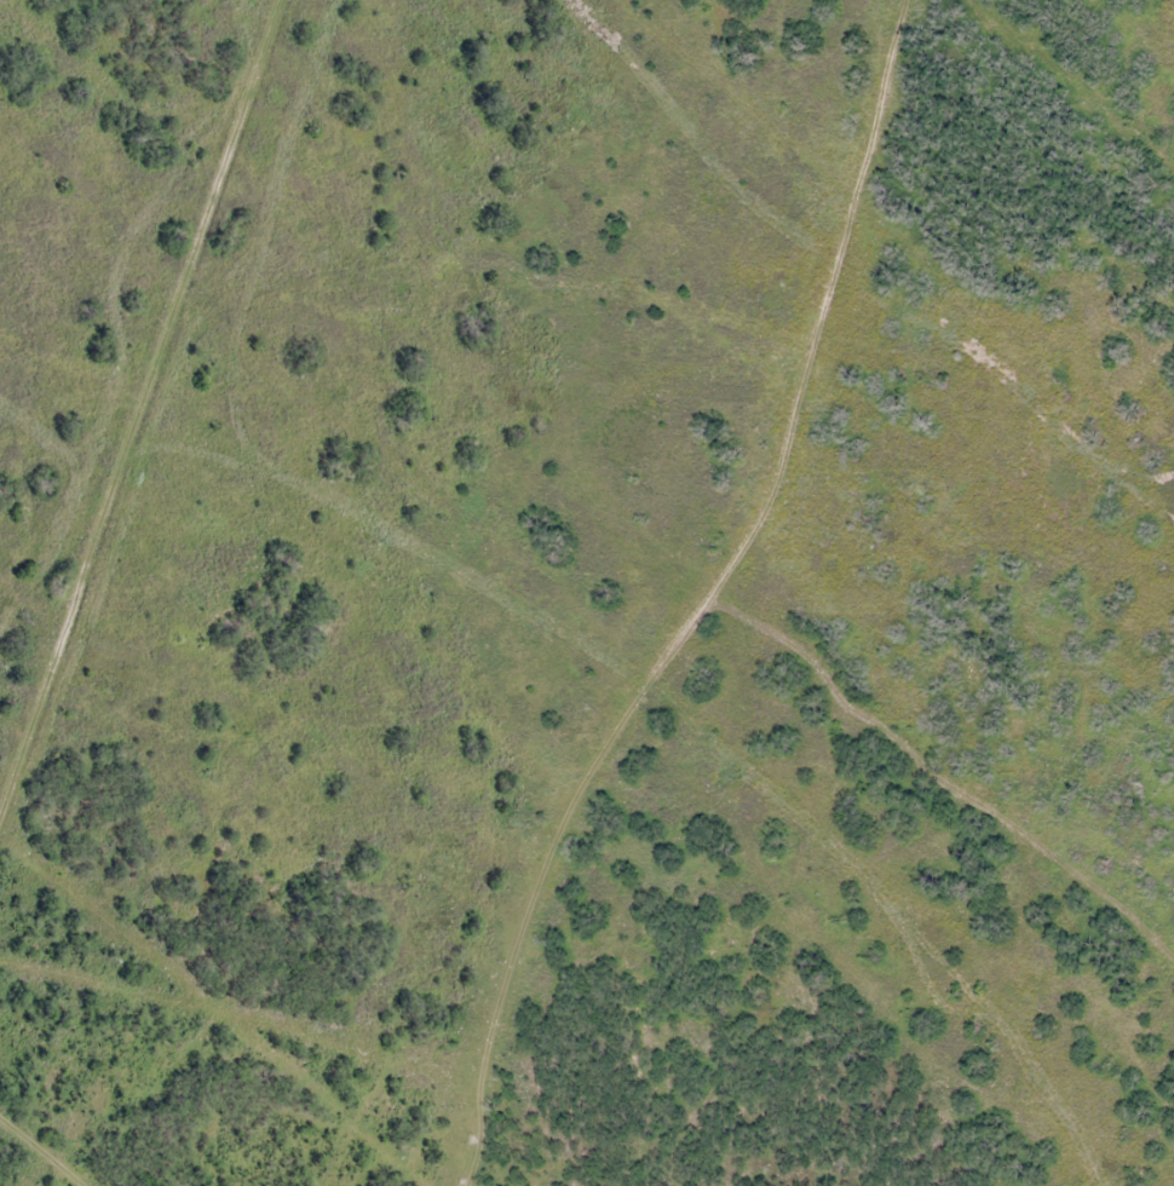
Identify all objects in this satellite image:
road: (675, 587)

